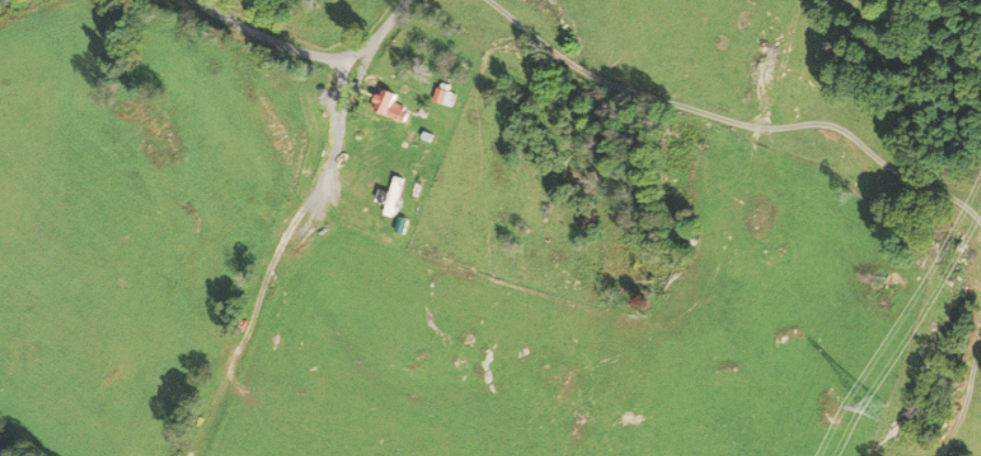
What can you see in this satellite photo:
road: (311, 55)
building: (445, 96)
building: (392, 105)
road: (736, 121)
road: (331, 132)
building: (393, 195)
road: (966, 398)
power tower: (859, 408)

